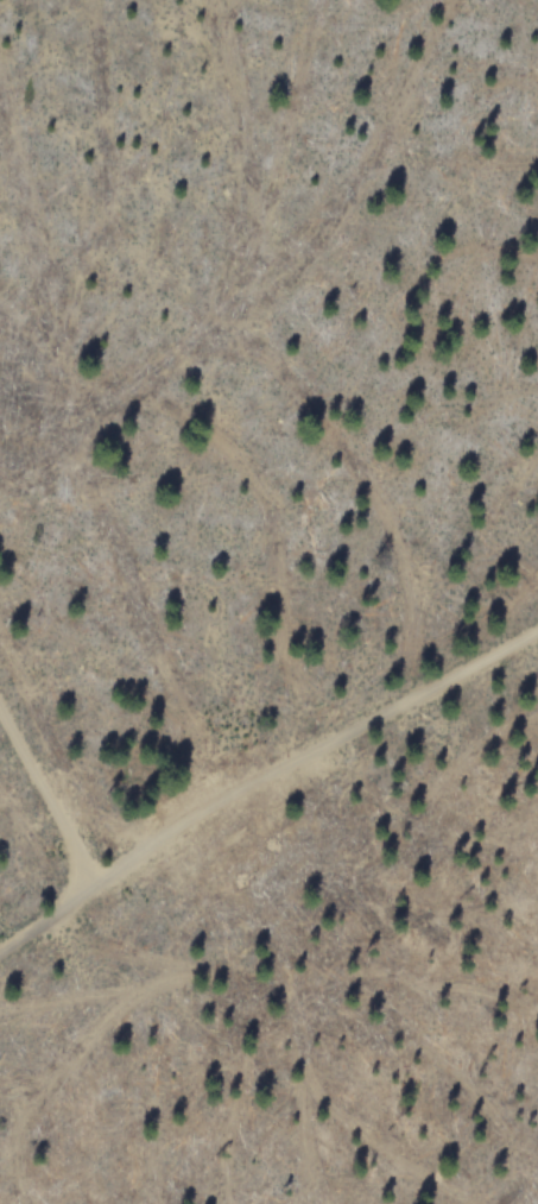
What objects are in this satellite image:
road: (264, 792)
road: (50, 796)

